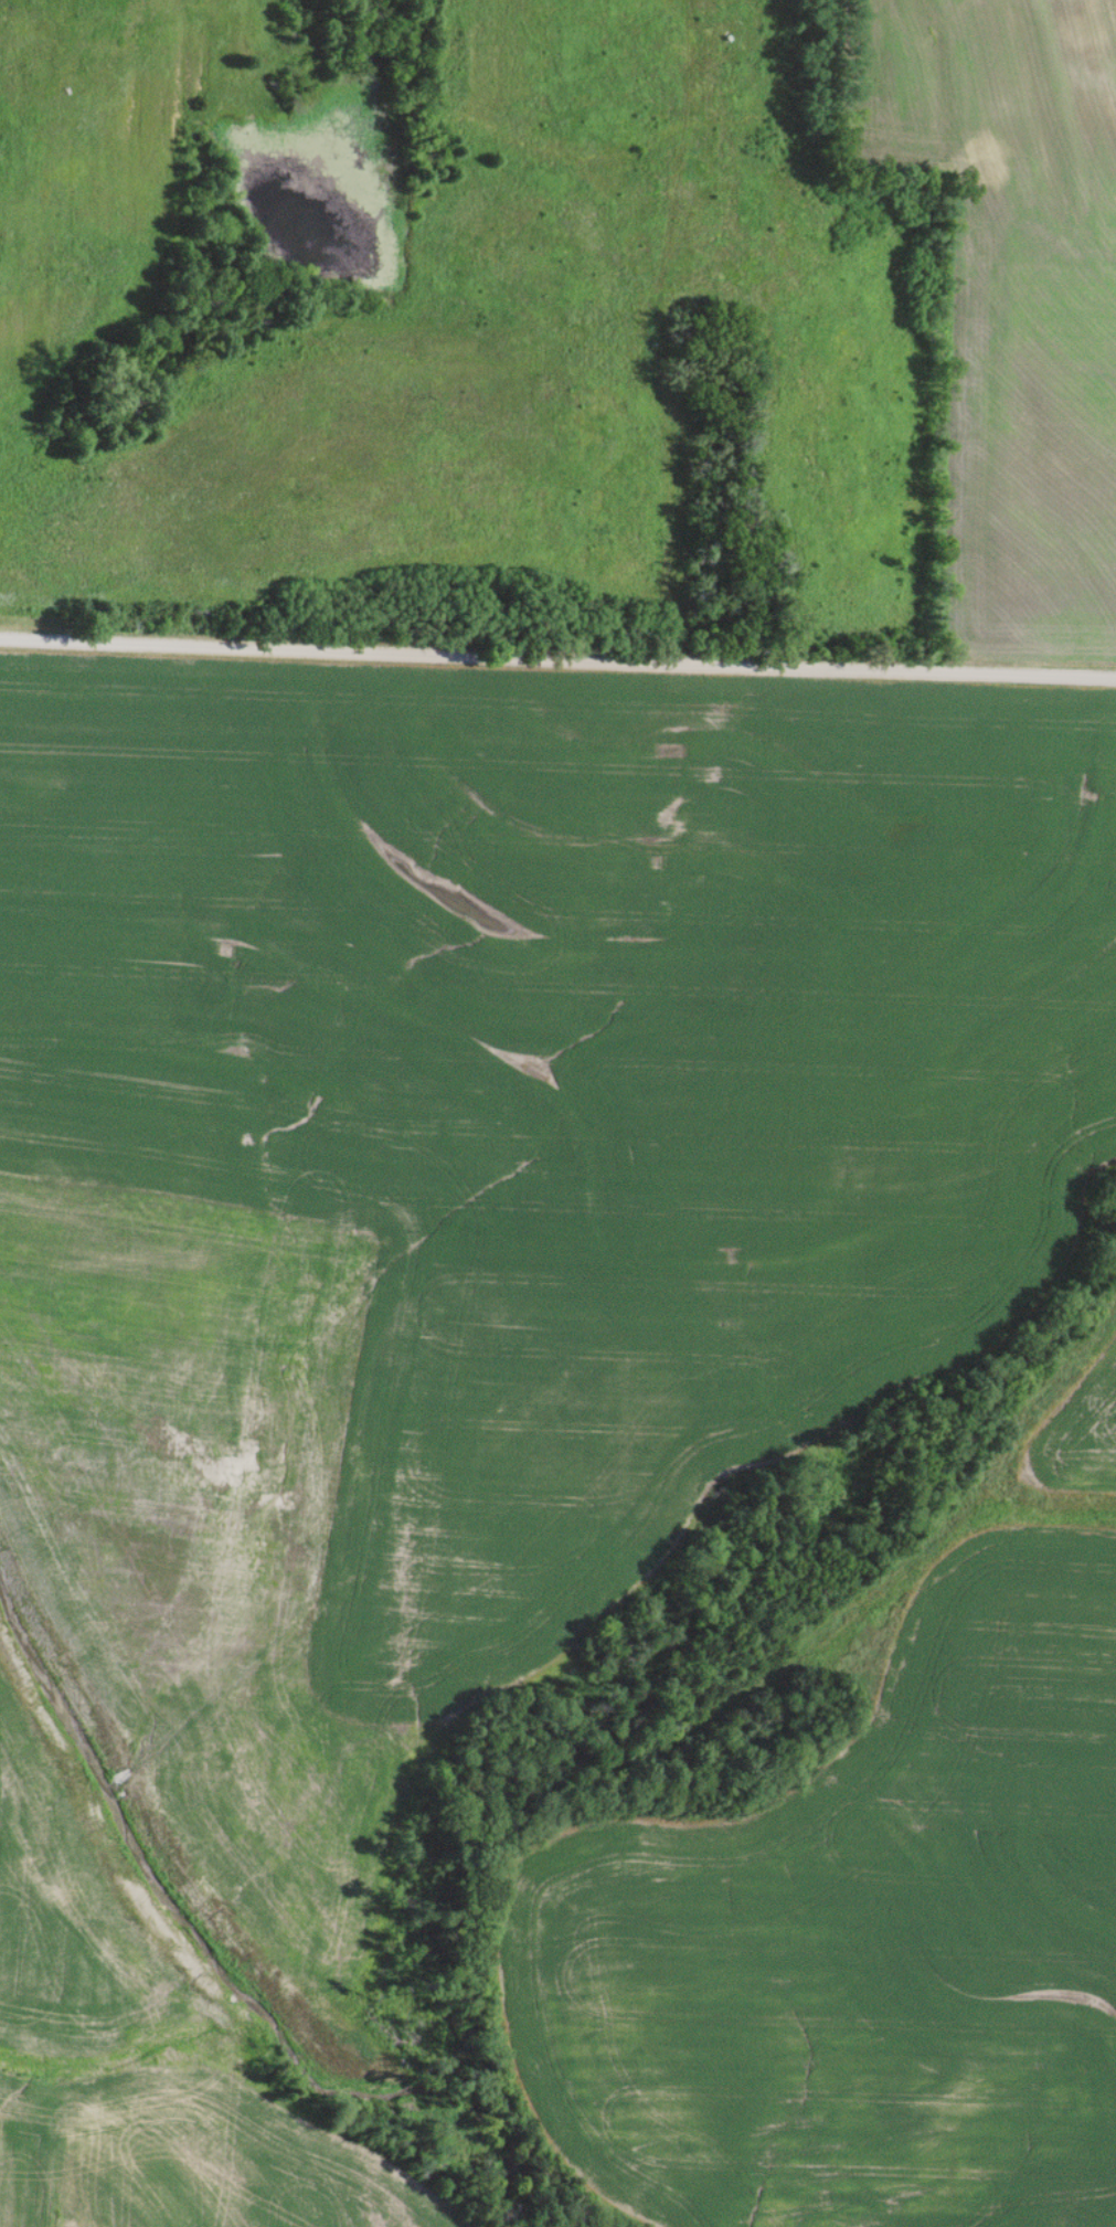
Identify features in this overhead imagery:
road: (557, 662)

